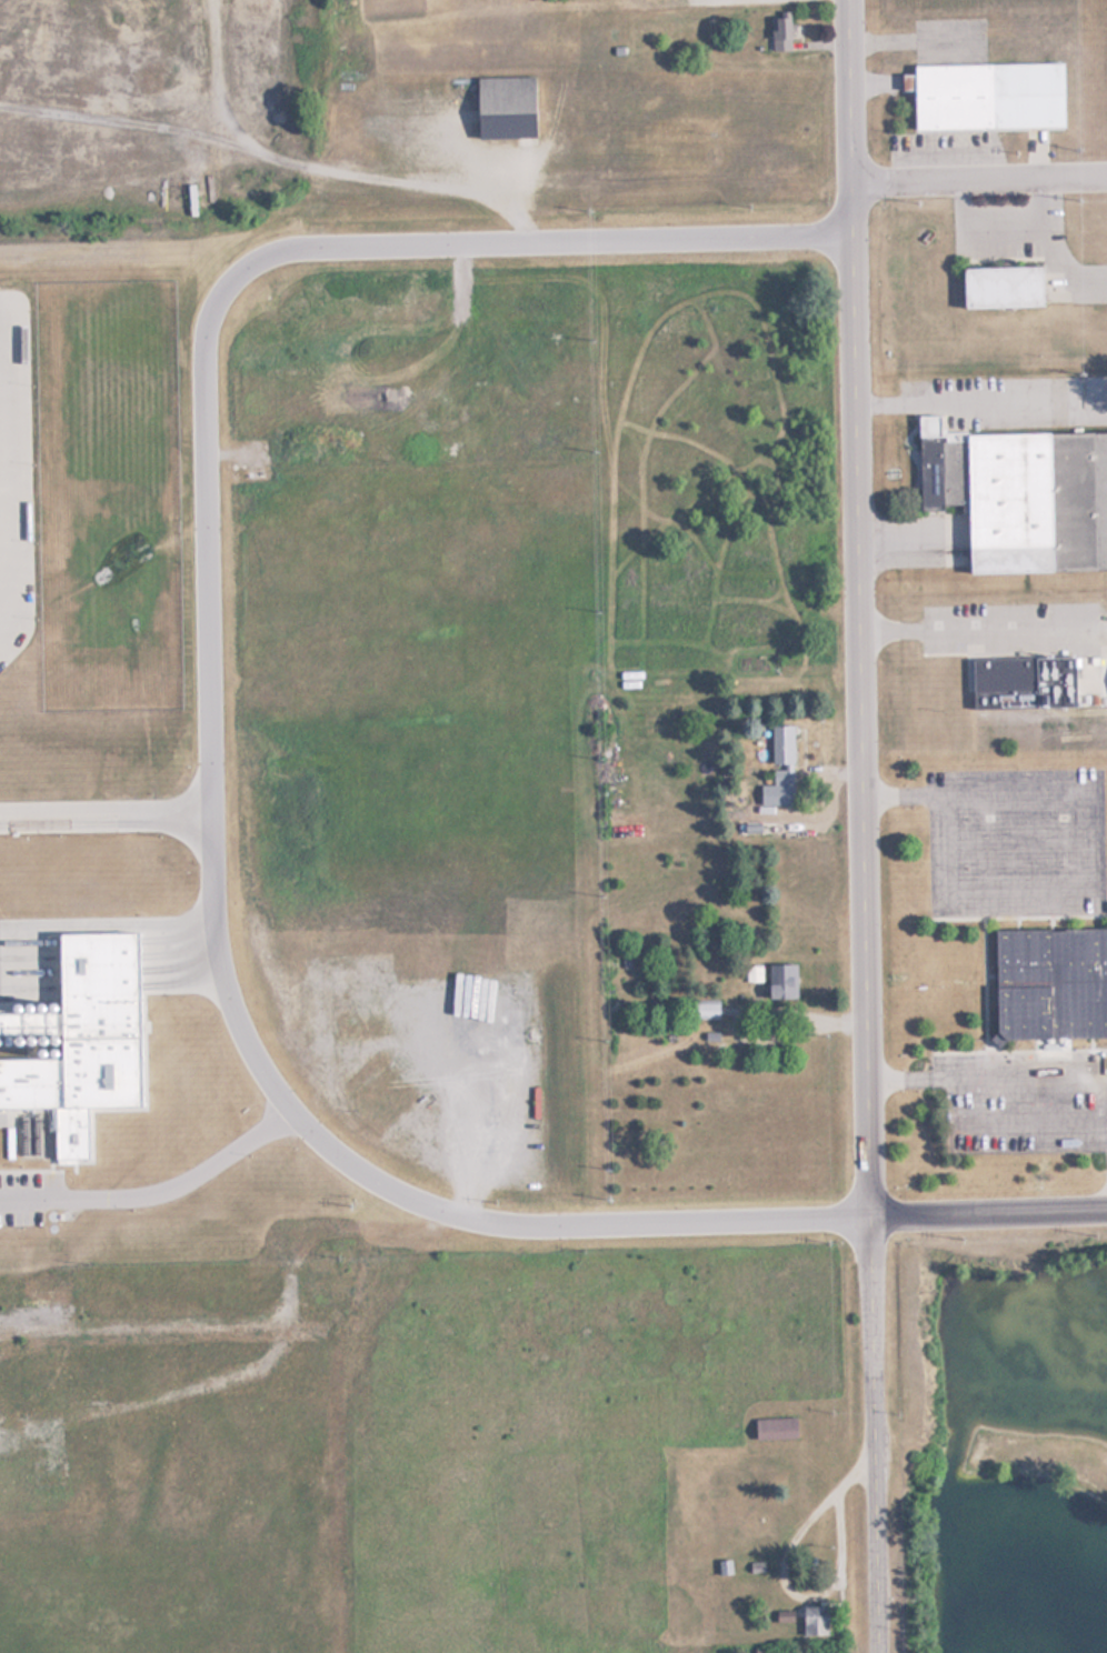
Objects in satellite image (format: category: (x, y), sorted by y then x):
building: (779, 33)
building: (985, 96)
building: (505, 107)
road: (981, 183)
building: (191, 199)
road: (428, 242)
building: (999, 288)
building: (1019, 495)
road: (985, 625)
road: (211, 657)
building: (1023, 683)
building: (781, 745)
building: (780, 787)
road: (865, 826)
building: (780, 982)
building: (1049, 984)
building: (707, 1010)
road: (987, 1086)
road: (989, 1215)
building: (775, 1430)
building: (812, 1622)

